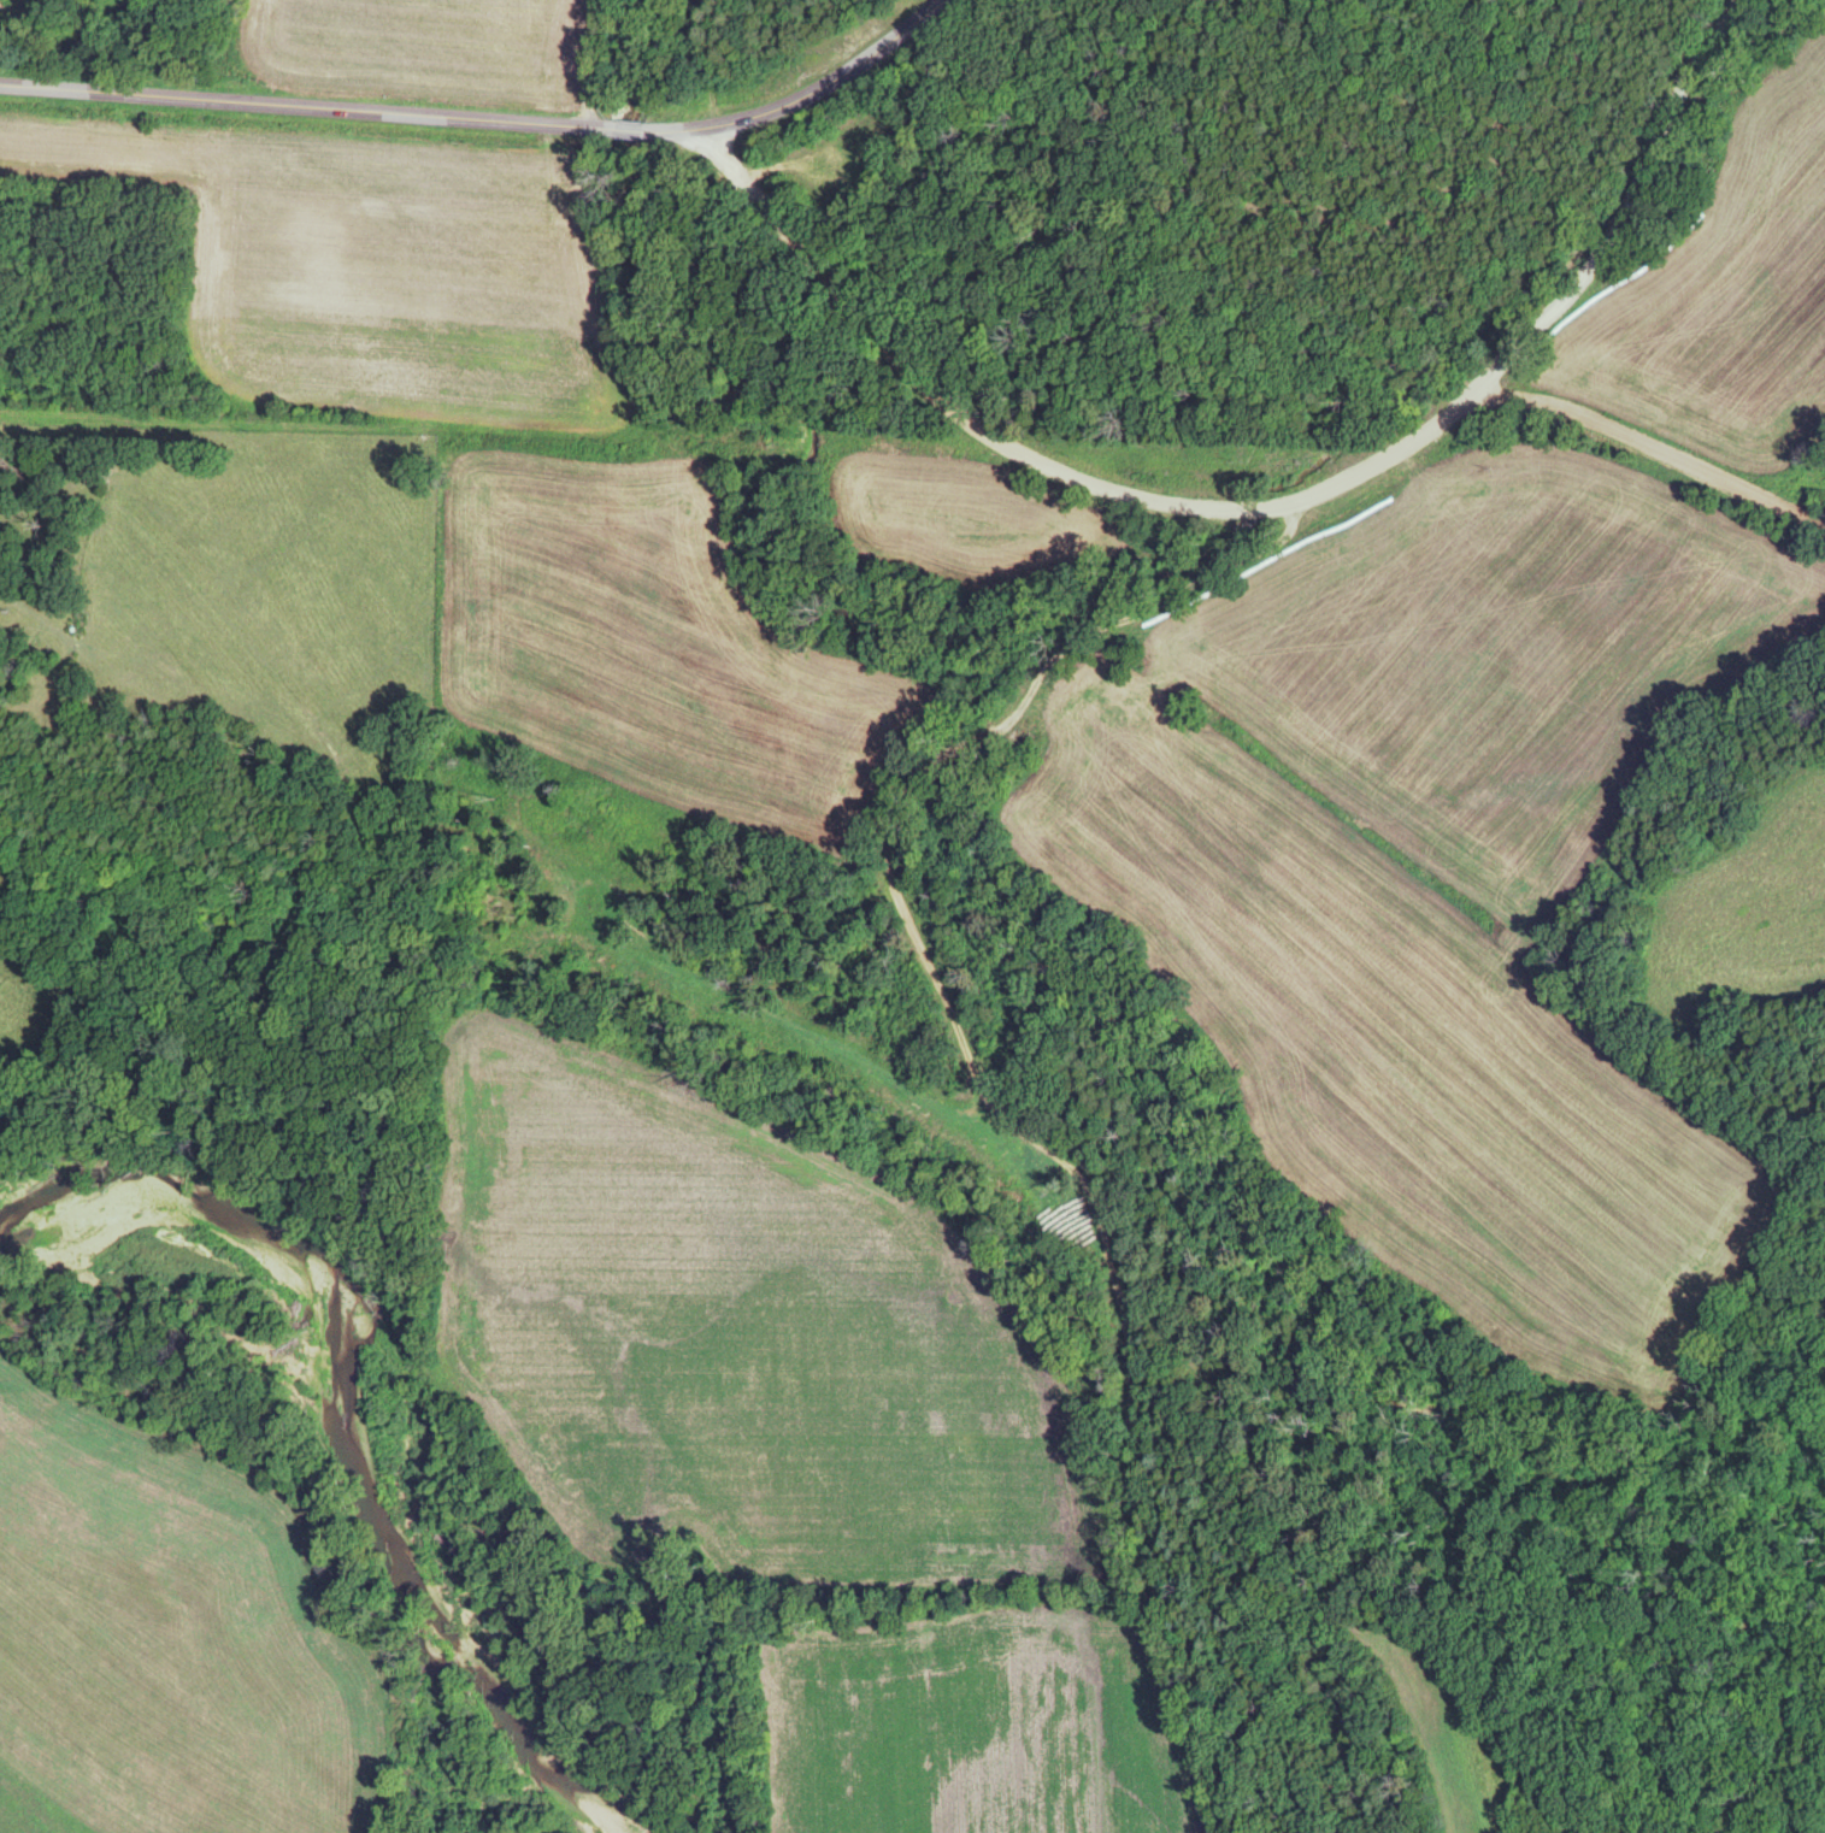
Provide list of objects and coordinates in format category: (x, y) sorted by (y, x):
road: (493, 123)
road: (1559, 310)
road: (901, 365)
road: (1654, 448)
road: (1214, 514)
road: (994, 1110)

